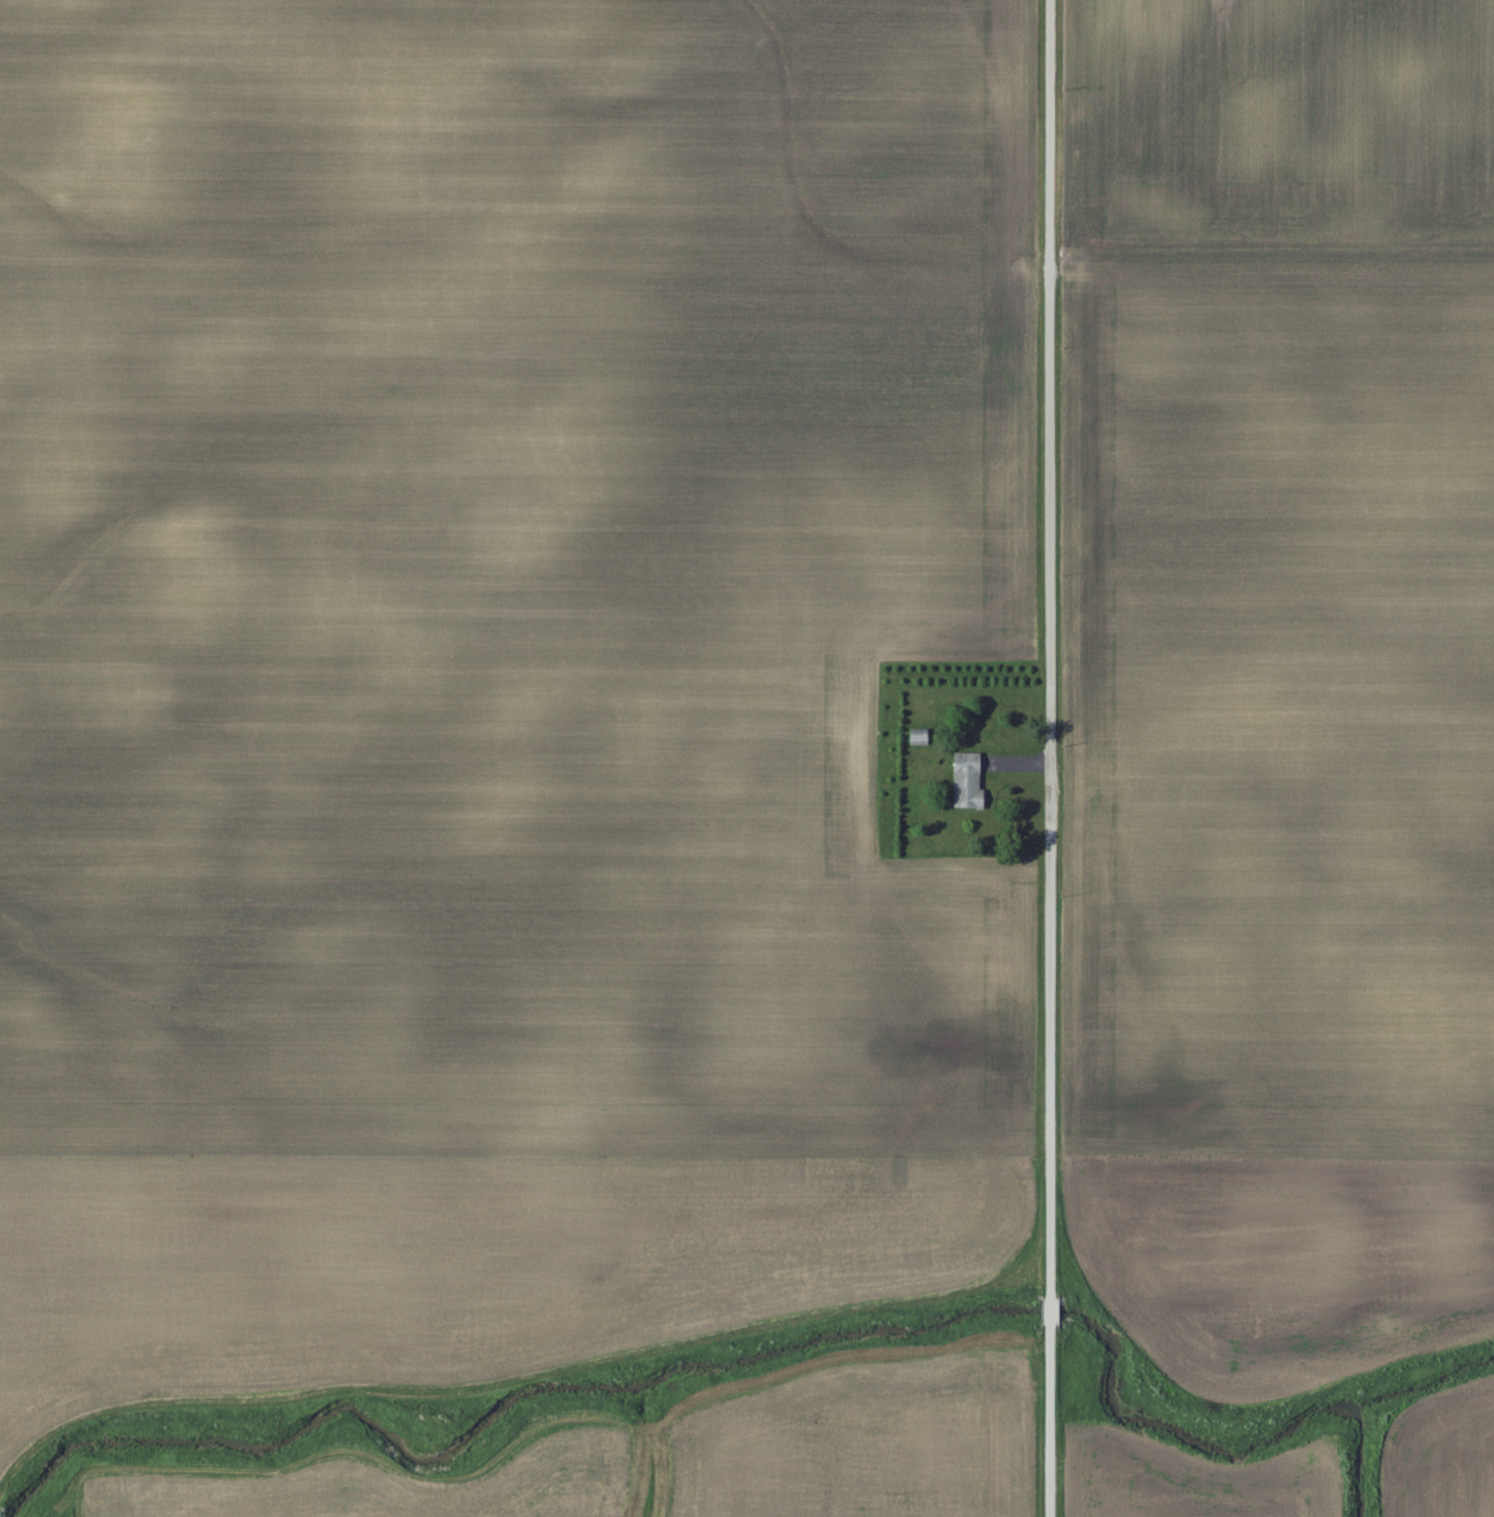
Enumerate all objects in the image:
road: (1051, 758)

